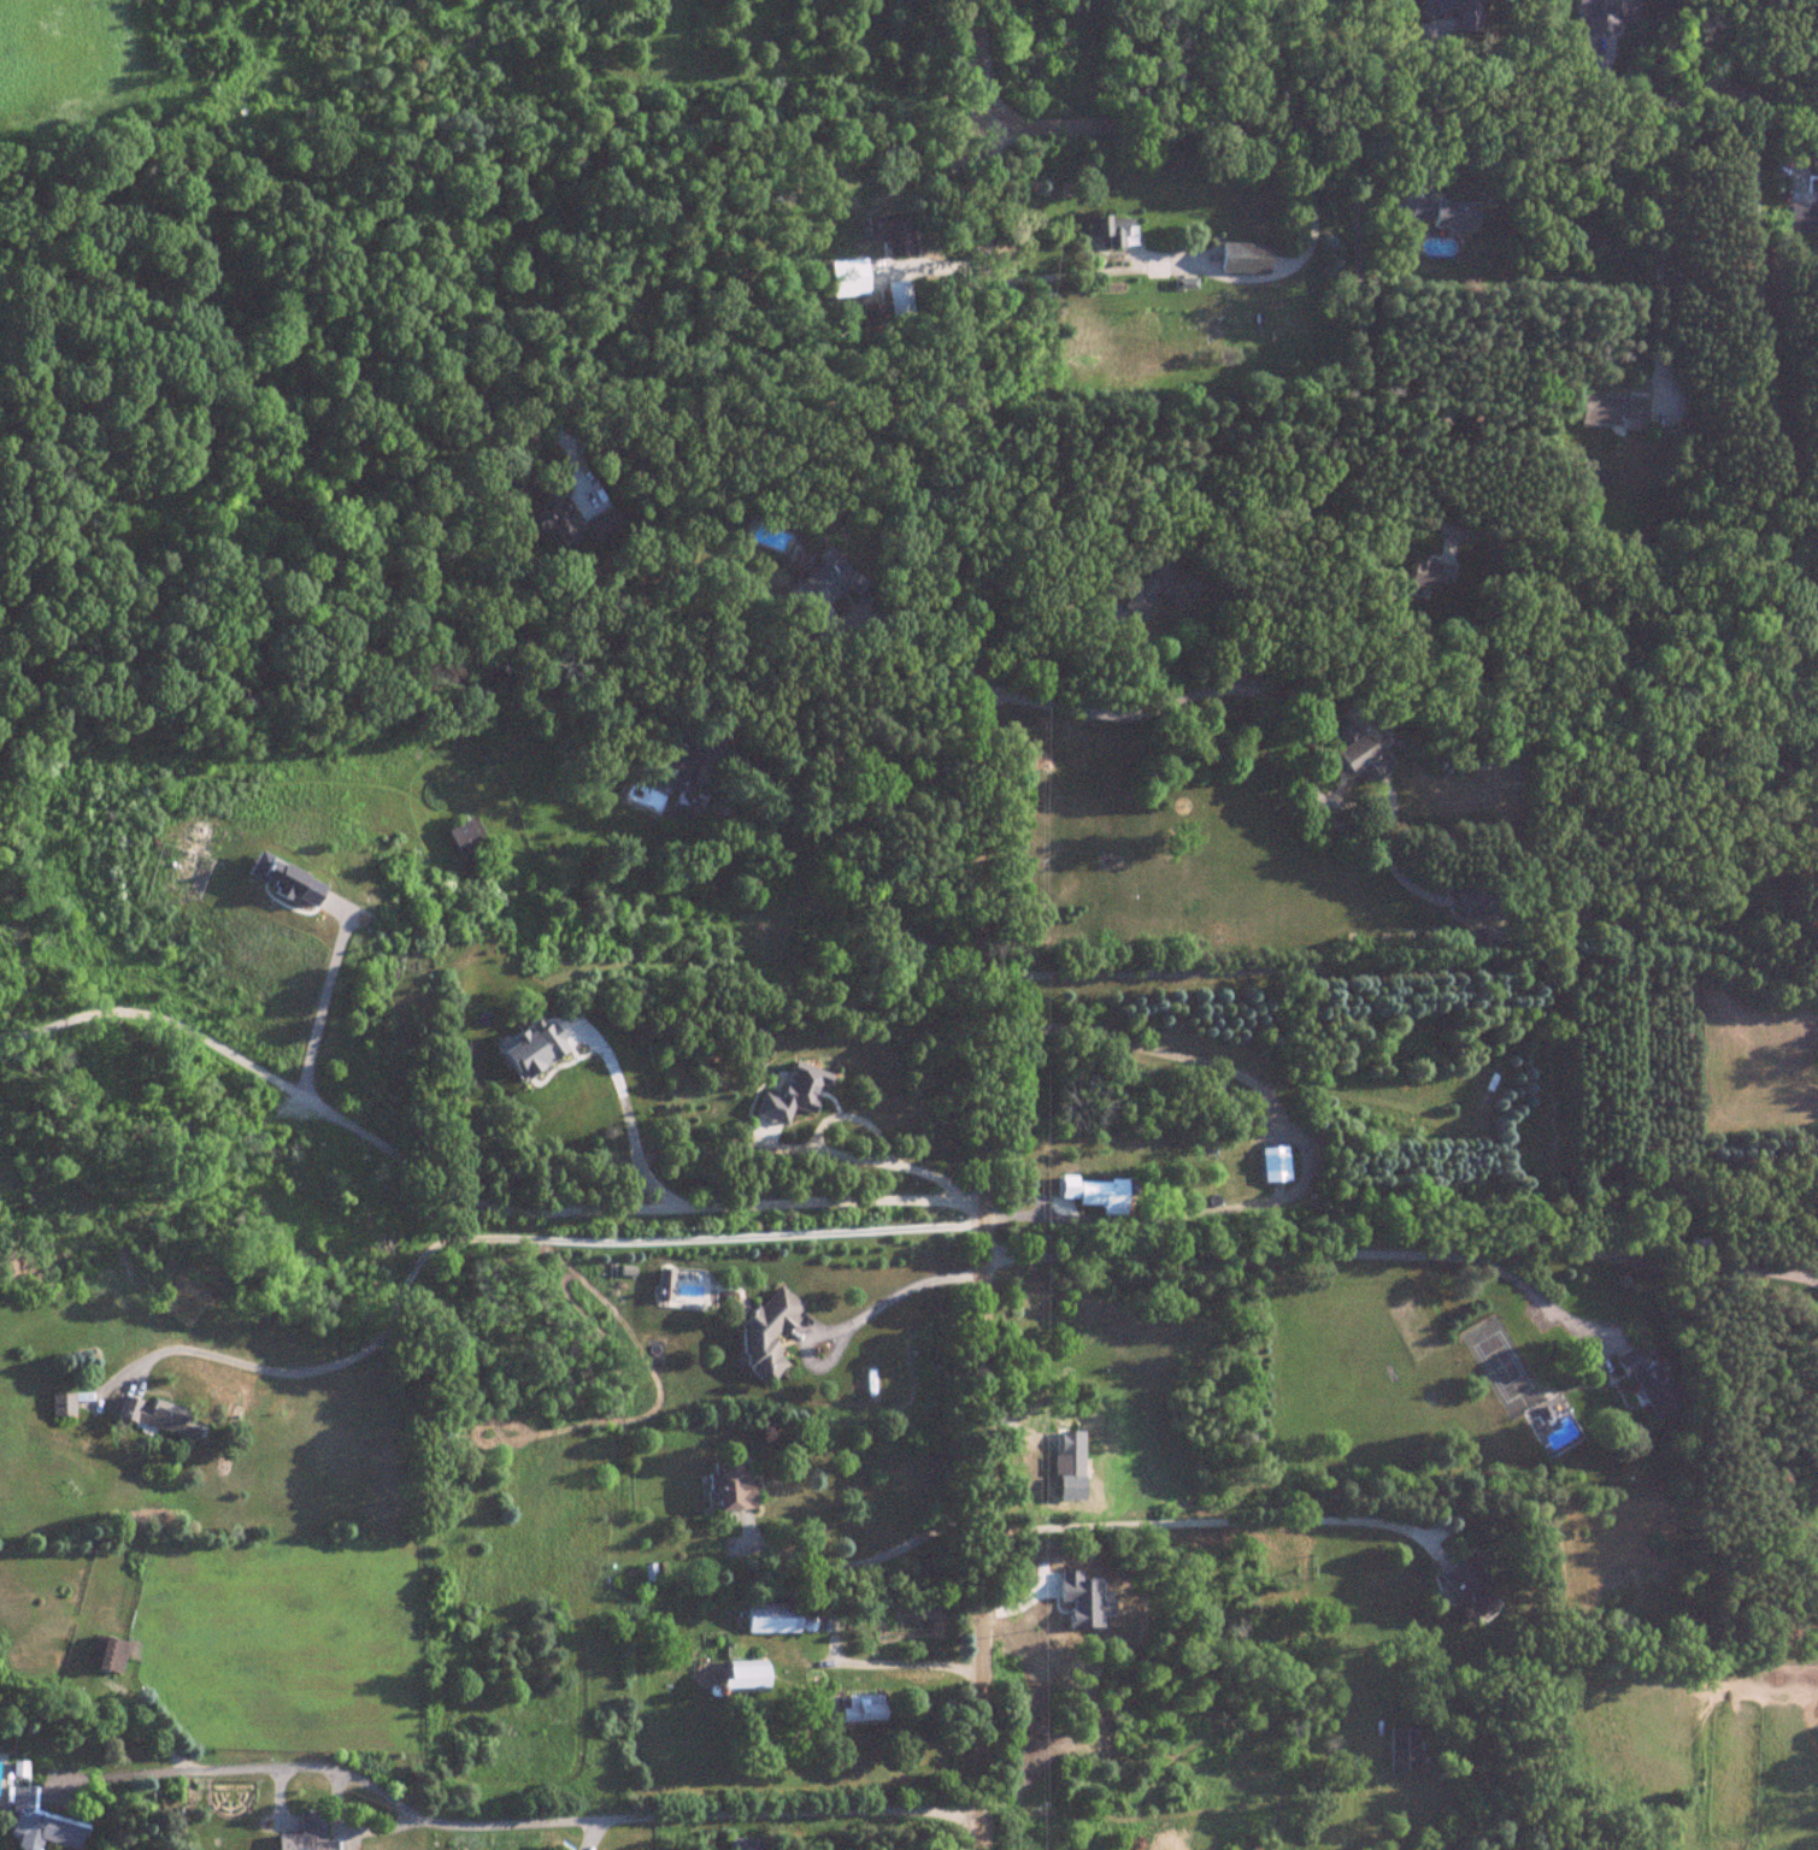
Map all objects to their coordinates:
building: (1451, 12)
road: (1684, 47)
road: (1398, 106)
building: (1436, 212)
building: (1800, 214)
building: (1104, 230)
building: (888, 232)
road: (1659, 244)
building: (1239, 257)
road: (1213, 271)
building: (846, 277)
building: (898, 299)
building: (872, 314)
road: (1353, 328)
road: (778, 405)
building: (1610, 410)
road: (1775, 416)
building: (1425, 575)
building: (1159, 589)
building: (812, 596)
road: (1055, 660)
road: (916, 661)
road: (1193, 694)
building: (1355, 753)
building: (679, 760)
building: (461, 839)
building: (1473, 902)
road: (981, 924)
road: (1404, 965)
road: (324, 991)
road: (626, 1109)
road: (1302, 1150)
building: (1272, 1163)
road: (890, 1165)
road: (463, 1191)
building: (1098, 1195)
road: (518, 1237)
road: (1630, 1257)
road: (1304, 1262)
road: (894, 1295)
building: (764, 1333)
building: (1647, 1386)
building: (60, 1404)
building: (158, 1418)
building: (1088, 1431)
building: (1066, 1478)
building: (726, 1486)
road: (1196, 1521)
road: (867, 1560)
building: (1469, 1585)
building: (770, 1619)
building: (105, 1655)
road: (899, 1663)
building: (740, 1678)
building: (855, 1708)
building: (1400, 1749)
building: (39, 1825)
road: (506, 1825)
building: (306, 1834)
building: (743, 1844)

